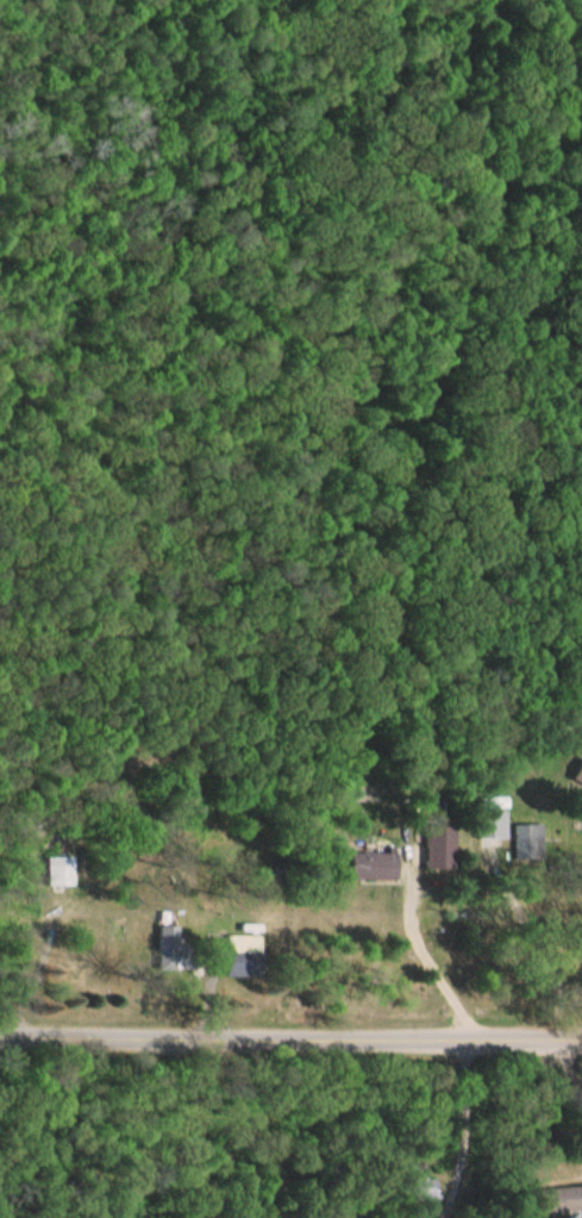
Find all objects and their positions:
building: (576, 773)
building: (489, 824)
building: (527, 839)
building: (433, 849)
building: (365, 866)
building: (163, 937)
building: (238, 960)
building: (64, 972)
road: (290, 1032)
building: (424, 1188)
building: (556, 1199)

